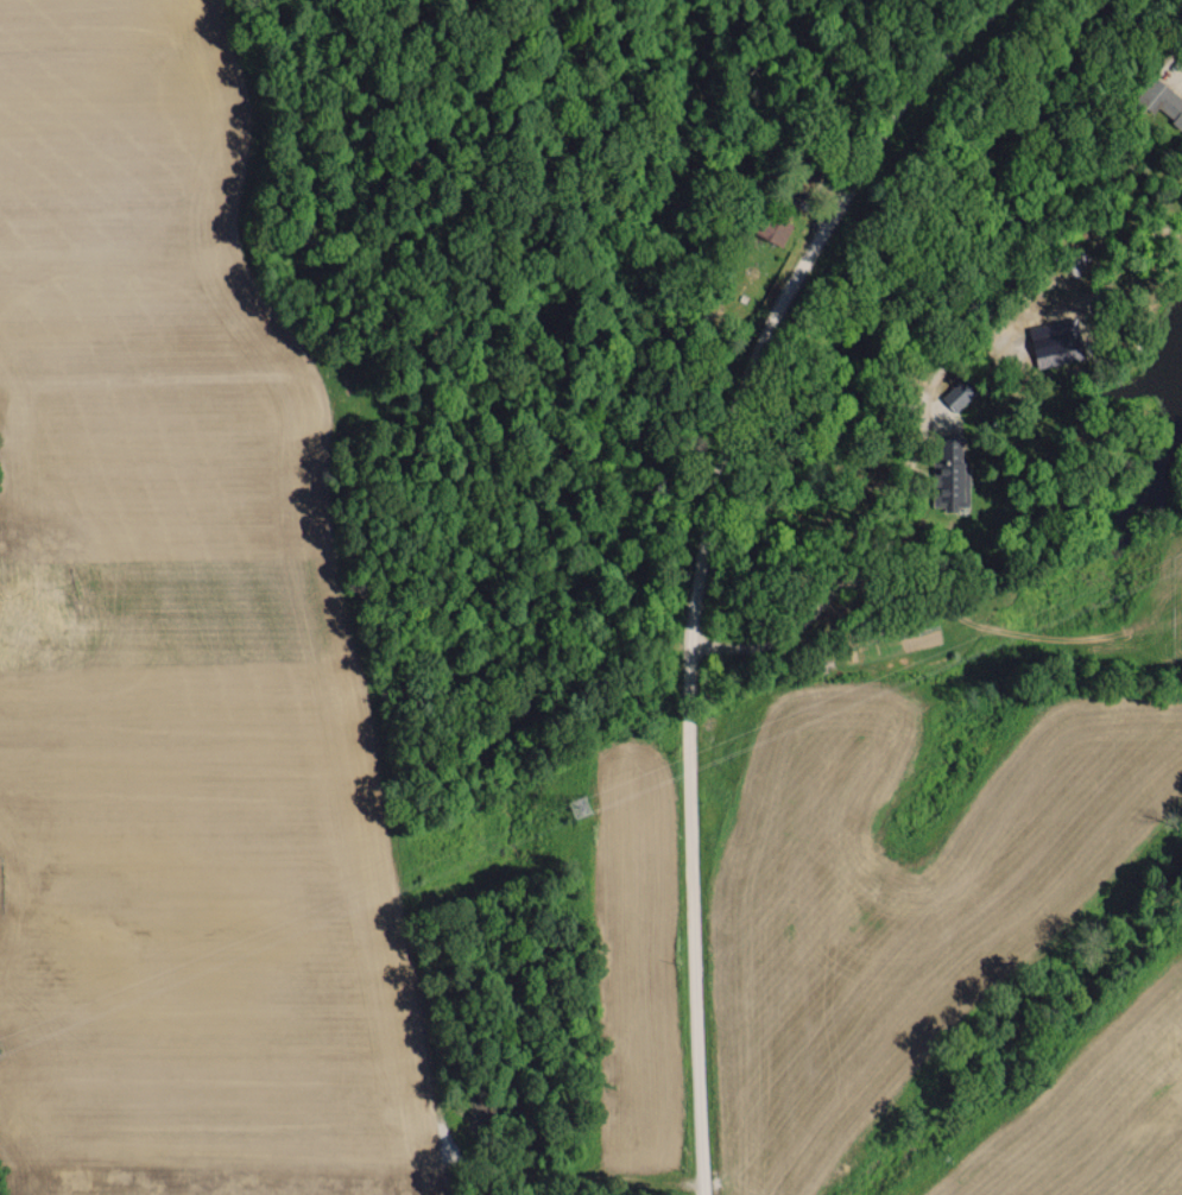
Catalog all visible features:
road: (1180, 58)
building: (1161, 100)
building: (772, 228)
building: (957, 393)
building: (950, 473)
road: (704, 555)
road: (858, 571)

